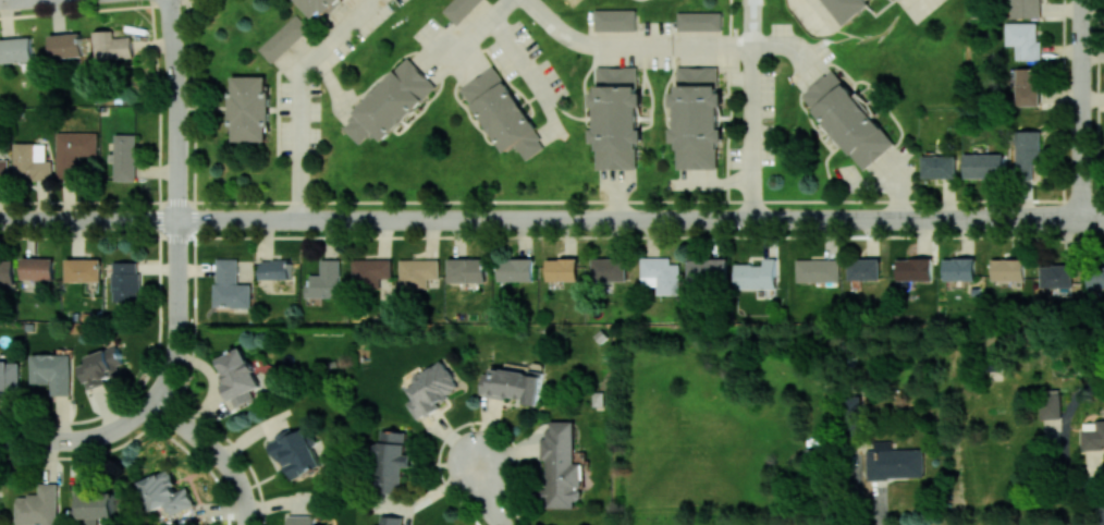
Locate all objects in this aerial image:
road: (3, 0)
building: (319, 7)
building: (845, 7)
road: (925, 7)
building: (461, 9)
building: (1026, 9)
road: (809, 16)
building: (615, 19)
building: (699, 21)
road: (475, 29)
building: (283, 38)
building: (1022, 40)
road: (629, 44)
building: (65, 45)
building: (113, 46)
road: (786, 47)
building: (15, 49)
road: (522, 57)
building: (1028, 86)
road: (299, 93)
building: (389, 102)
building: (249, 108)
road: (1080, 108)
road: (176, 109)
road: (750, 109)
building: (503, 113)
building: (616, 117)
building: (697, 117)
building: (847, 118)
building: (74, 150)
building: (1027, 152)
building: (124, 156)
building: (32, 160)
building: (940, 166)
building: (984, 166)
building: (3, 169)
road: (717, 183)
road: (899, 186)
road: (622, 196)
road: (648, 197)
road: (176, 202)
road: (1092, 217)
road: (998, 218)
road: (87, 219)
road: (214, 219)
road: (585, 219)
road: (176, 236)
road: (649, 237)
building: (37, 268)
building: (277, 268)
building: (610, 268)
building: (863, 268)
building: (958, 268)
building: (83, 269)
building: (467, 269)
building: (515, 269)
building: (562, 269)
building: (817, 269)
building: (913, 269)
building: (1007, 269)
building: (708, 270)
building: (7, 271)
road: (177, 271)
building: (370, 271)
road: (159, 272)
building: (418, 272)
building: (661, 274)
building: (756, 274)
building: (1055, 276)
building: (1095, 277)
building: (326, 280)
building: (125, 281)
building: (231, 285)
road: (194, 296)
road: (170, 363)
building: (102, 366)
building: (52, 371)
building: (237, 375)
building: (9, 377)
building: (514, 383)
building: (432, 388)
building: (1050, 403)
road: (144, 408)
building: (1093, 436)
road: (69, 439)
road: (207, 442)
building: (295, 452)
building: (392, 461)
building: (894, 461)
building: (561, 465)
road: (483, 491)
building: (165, 492)
building: (94, 505)
building: (39, 506)
road: (246, 512)
building: (302, 520)
building: (391, 520)

